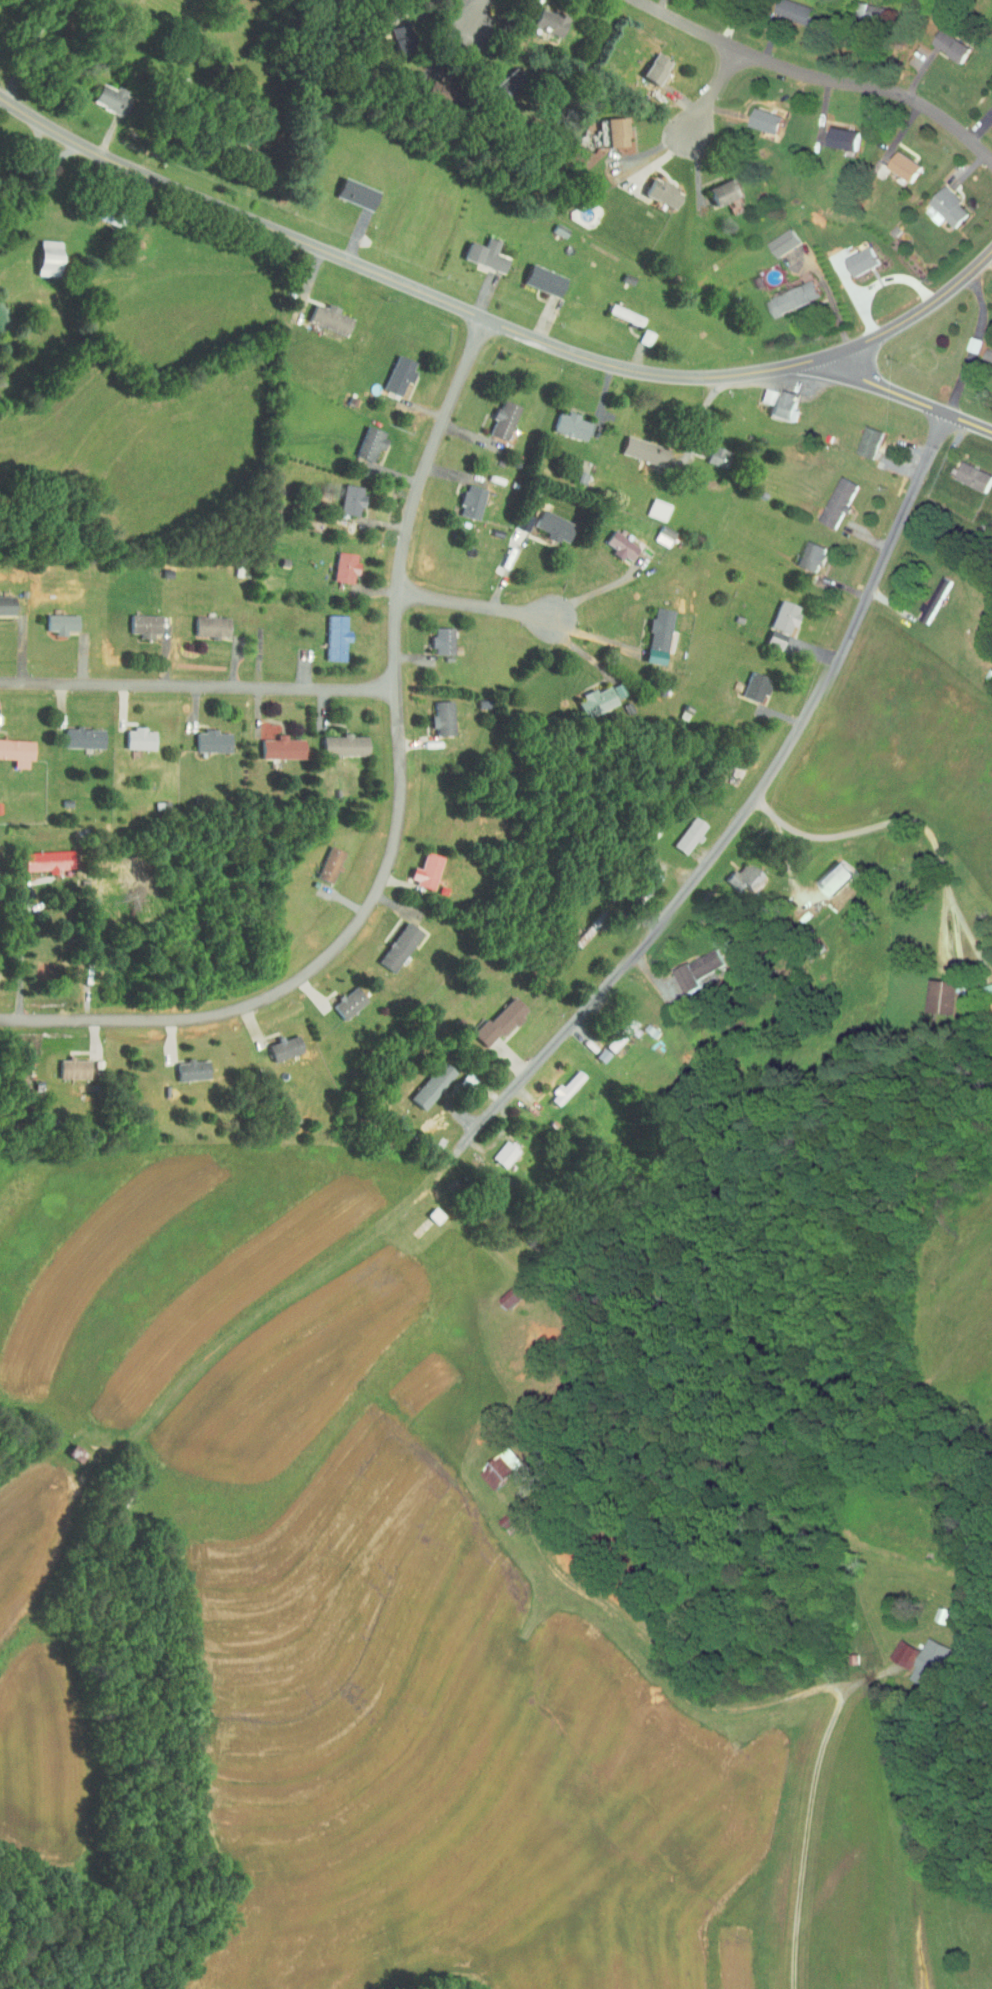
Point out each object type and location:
building: (787, 7)
building: (862, 7)
building: (543, 17)
road: (475, 21)
building: (393, 34)
building: (943, 40)
road: (33, 49)
building: (649, 63)
road: (820, 78)
building: (429, 87)
building: (101, 92)
building: (991, 97)
road: (712, 99)
building: (758, 115)
building: (609, 126)
building: (836, 132)
building: (898, 161)
road: (37, 181)
building: (717, 186)
building: (656, 188)
building: (349, 189)
building: (727, 201)
building: (938, 203)
building: (775, 237)
building: (479, 250)
building: (41, 253)
building: (855, 255)
road: (988, 258)
building: (537, 275)
building: (784, 294)
building: (322, 314)
road: (493, 321)
road: (958, 344)
building: (983, 352)
building: (391, 370)
building: (760, 391)
building: (776, 398)
road: (908, 399)
building: (496, 415)
building: (564, 420)
road: (702, 422)
building: (860, 437)
building: (362, 438)
building: (638, 446)
building: (711, 452)
building: (965, 471)
building: (343, 495)
building: (464, 496)
building: (830, 496)
building: (650, 504)
building: (546, 521)
building: (614, 541)
building: (803, 551)
building: (337, 561)
road: (510, 565)
road: (599, 591)
building: (924, 594)
building: (3, 600)
road: (473, 605)
building: (53, 618)
building: (774, 619)
building: (136, 620)
building: (204, 621)
building: (652, 631)
building: (328, 632)
building: (434, 635)
road: (597, 637)
road: (923, 643)
building: (748, 682)
road: (198, 683)
building: (589, 696)
building: (434, 713)
building: (76, 733)
building: (132, 734)
building: (204, 736)
building: (336, 740)
building: (274, 743)
building: (12, 747)
road: (398, 811)
road: (743, 819)
road: (903, 820)
building: (683, 830)
building: (39, 856)
building: (321, 859)
building: (419, 866)
building: (738, 873)
building: (827, 873)
building: (392, 942)
road: (22, 949)
building: (688, 966)
building: (931, 991)
building: (341, 997)
building: (492, 1017)
building: (613, 1030)
building: (277, 1042)
building: (67, 1064)
building: (185, 1065)
building: (424, 1080)
building: (559, 1082)
building: (497, 1148)
building: (507, 1290)
building: (492, 1463)
road: (540, 1569)
building: (930, 1609)
building: (895, 1647)
building: (918, 1657)
road: (876, 1795)

